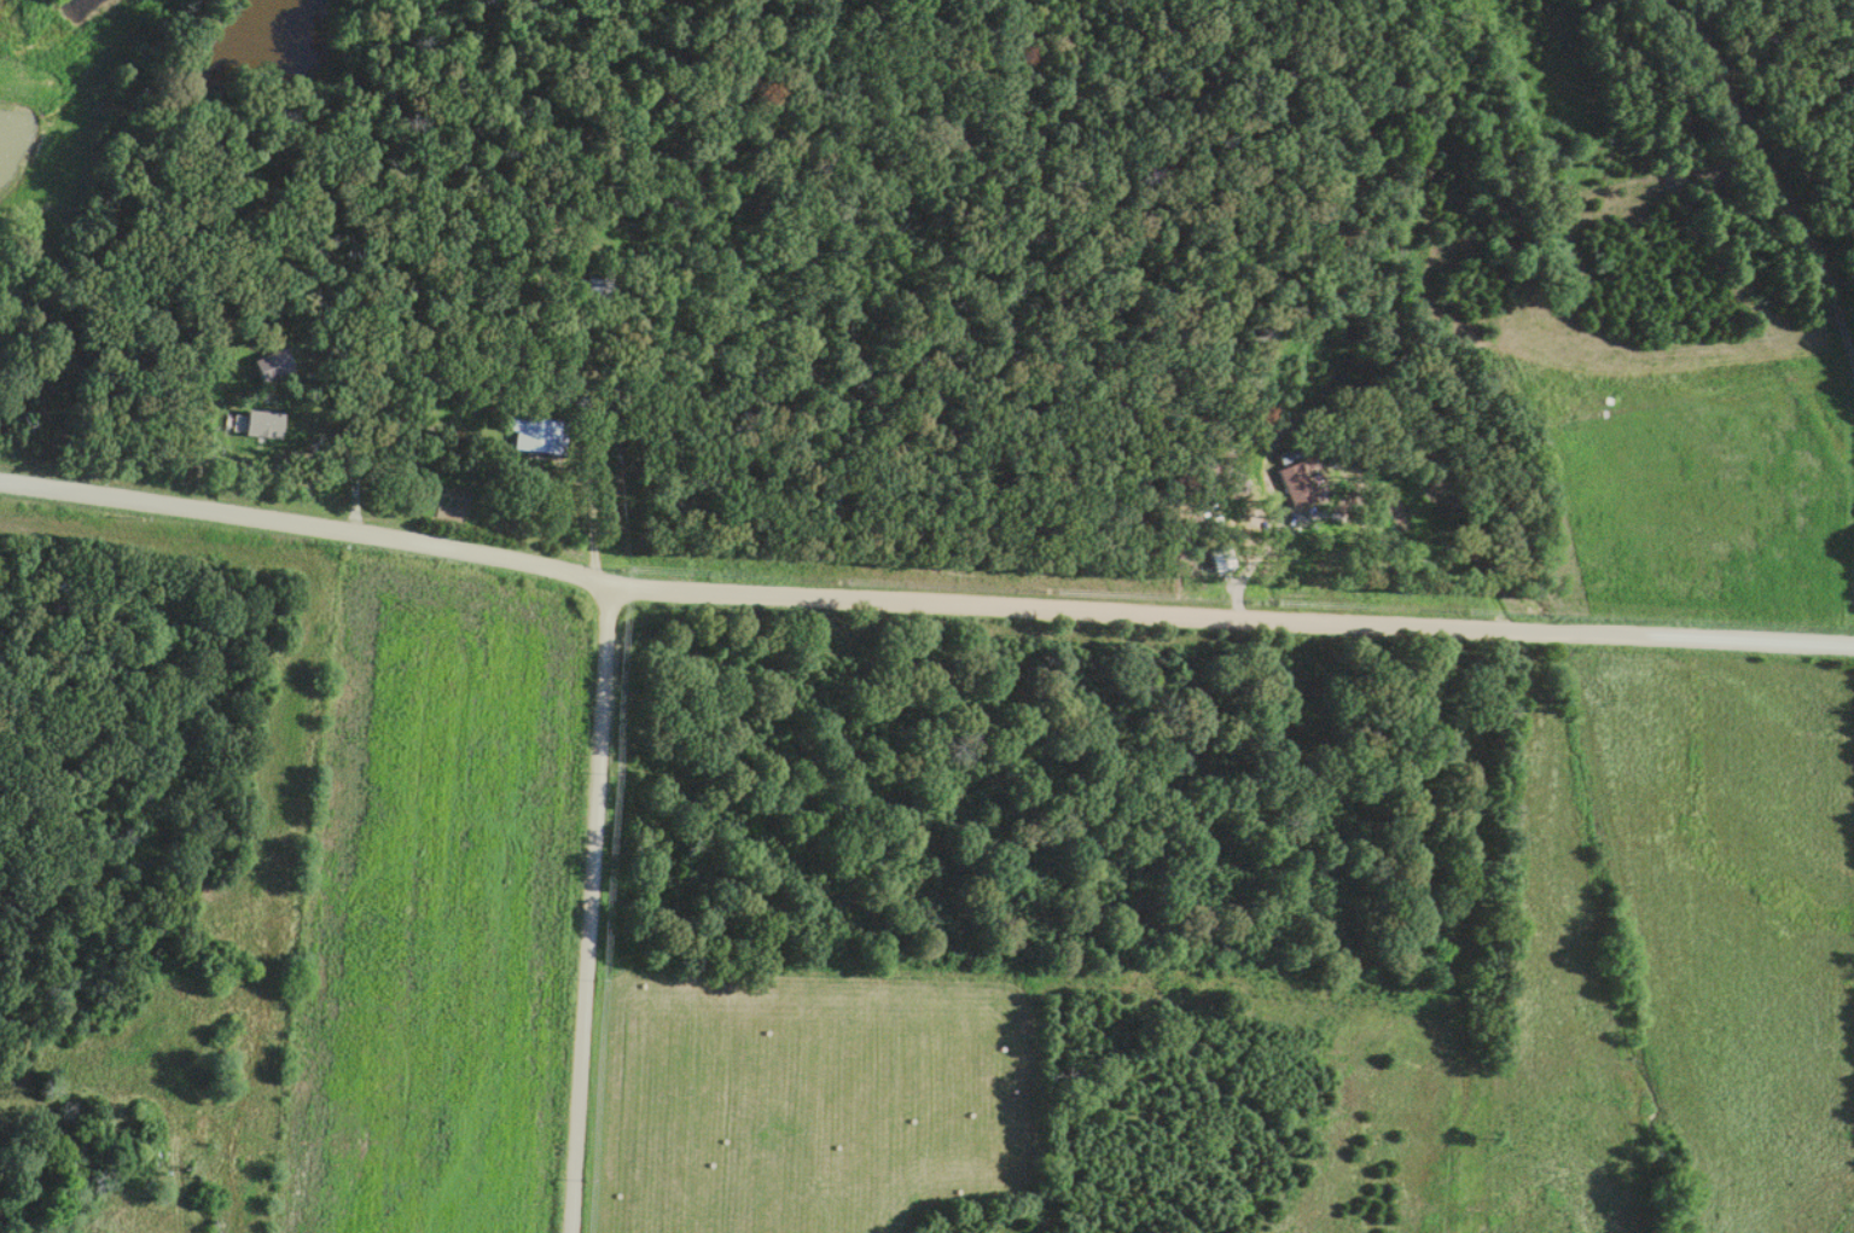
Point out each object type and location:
building: (599, 286)
building: (530, 435)
road: (350, 438)
road: (597, 464)
building: (1294, 488)
building: (1217, 559)
road: (923, 603)
road: (594, 909)

